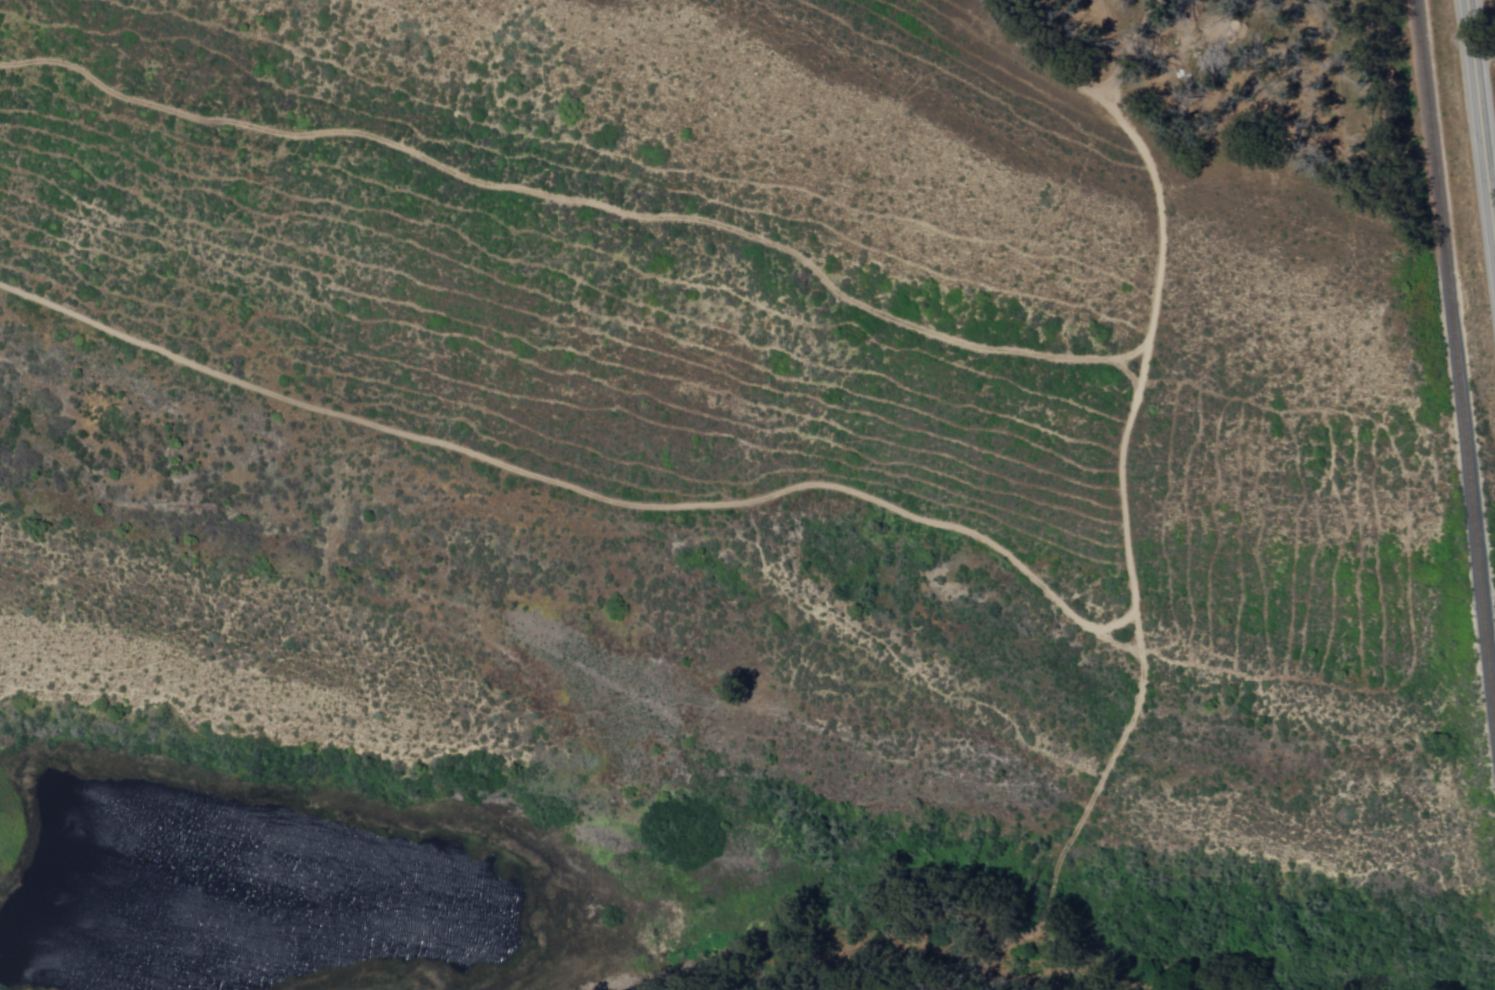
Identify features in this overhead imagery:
road: (1483, 55)
road: (1479, 127)
road: (580, 202)
road: (1492, 215)
railway: (1457, 366)
road: (1132, 375)
road: (1140, 393)
road: (576, 490)

